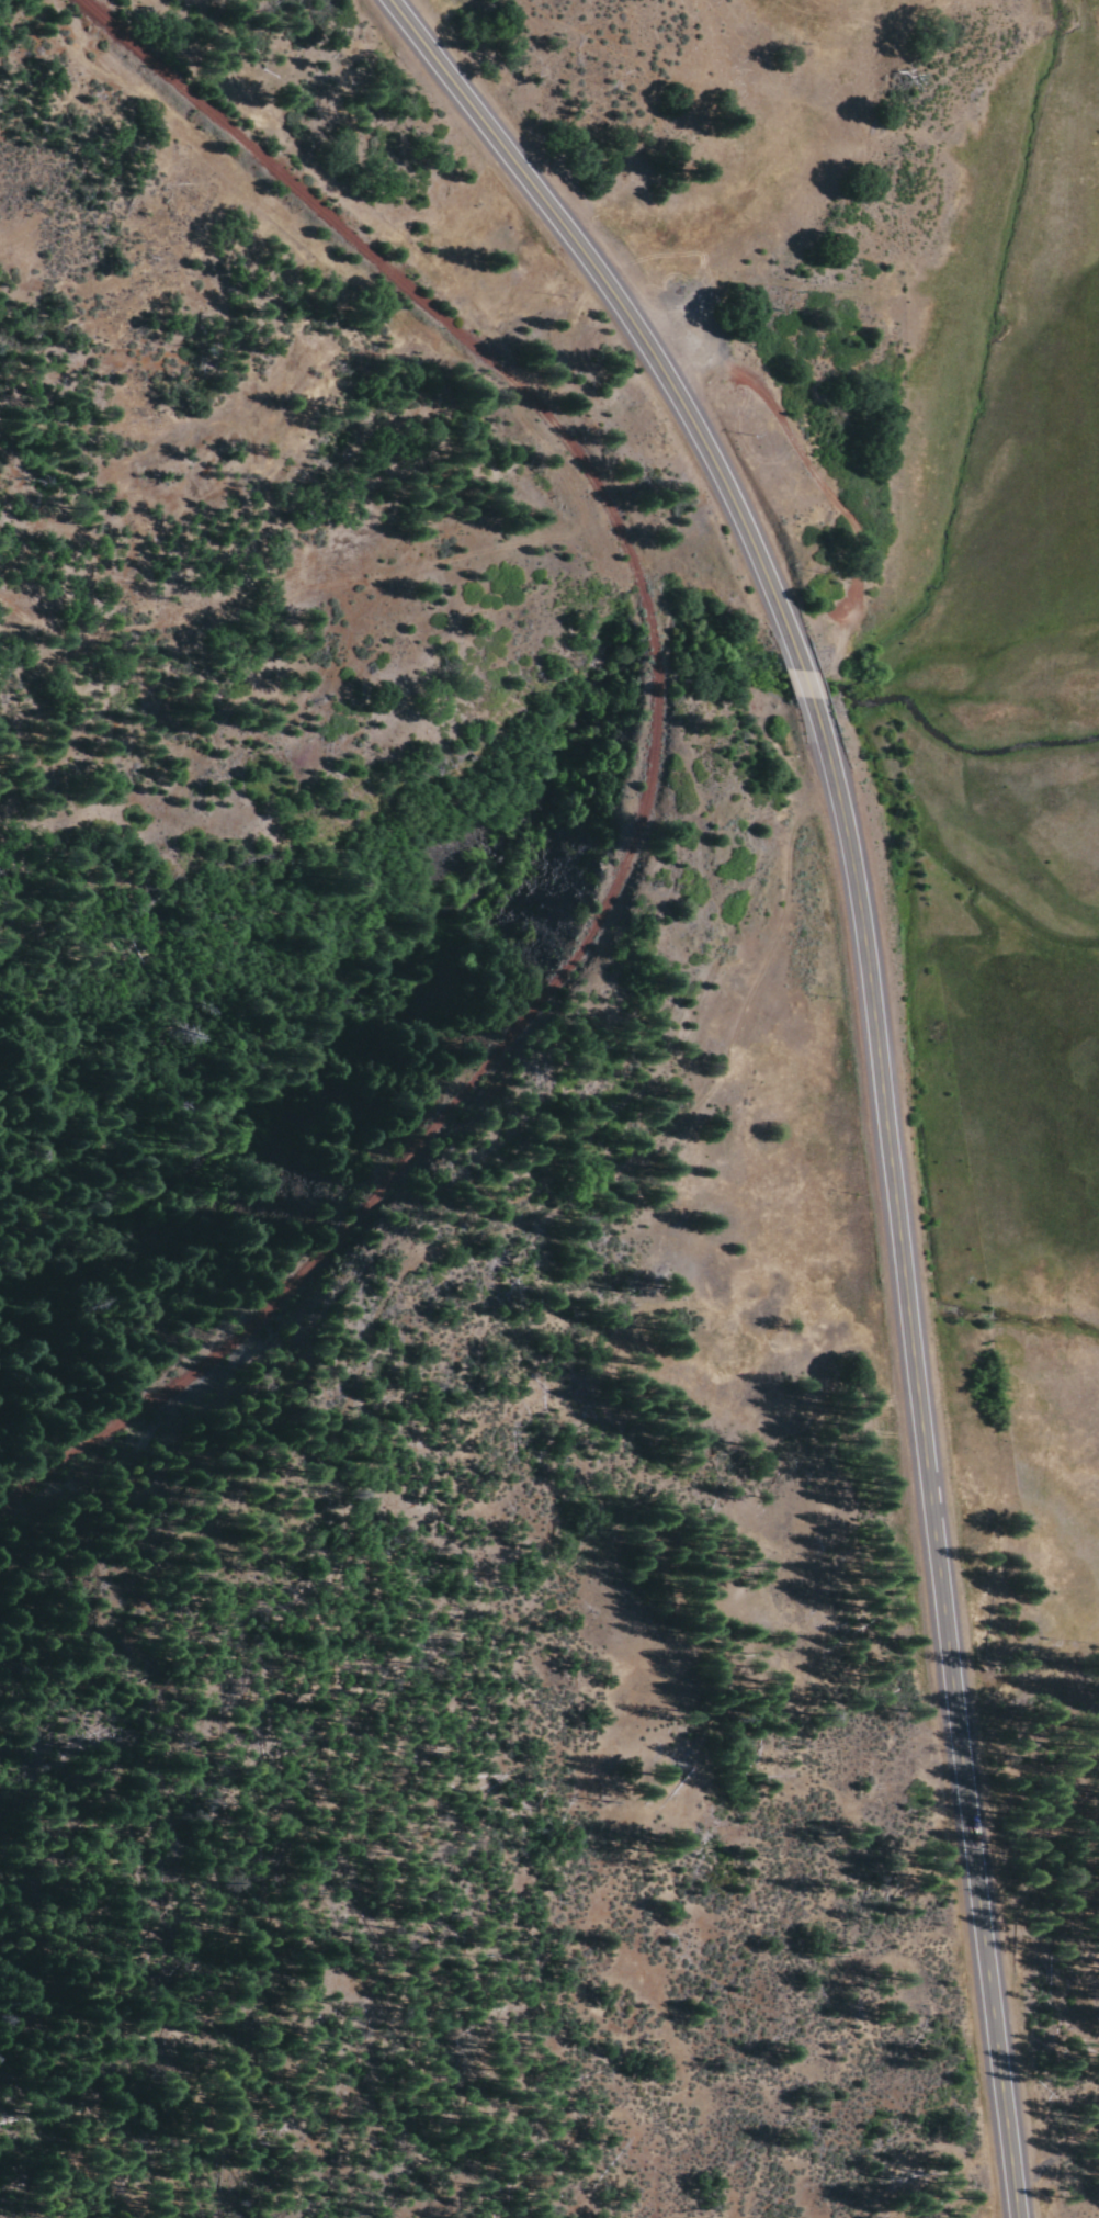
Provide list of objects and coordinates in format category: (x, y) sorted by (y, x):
road: (624, 317)
road: (811, 680)
road: (999, 1310)
road: (920, 1456)

